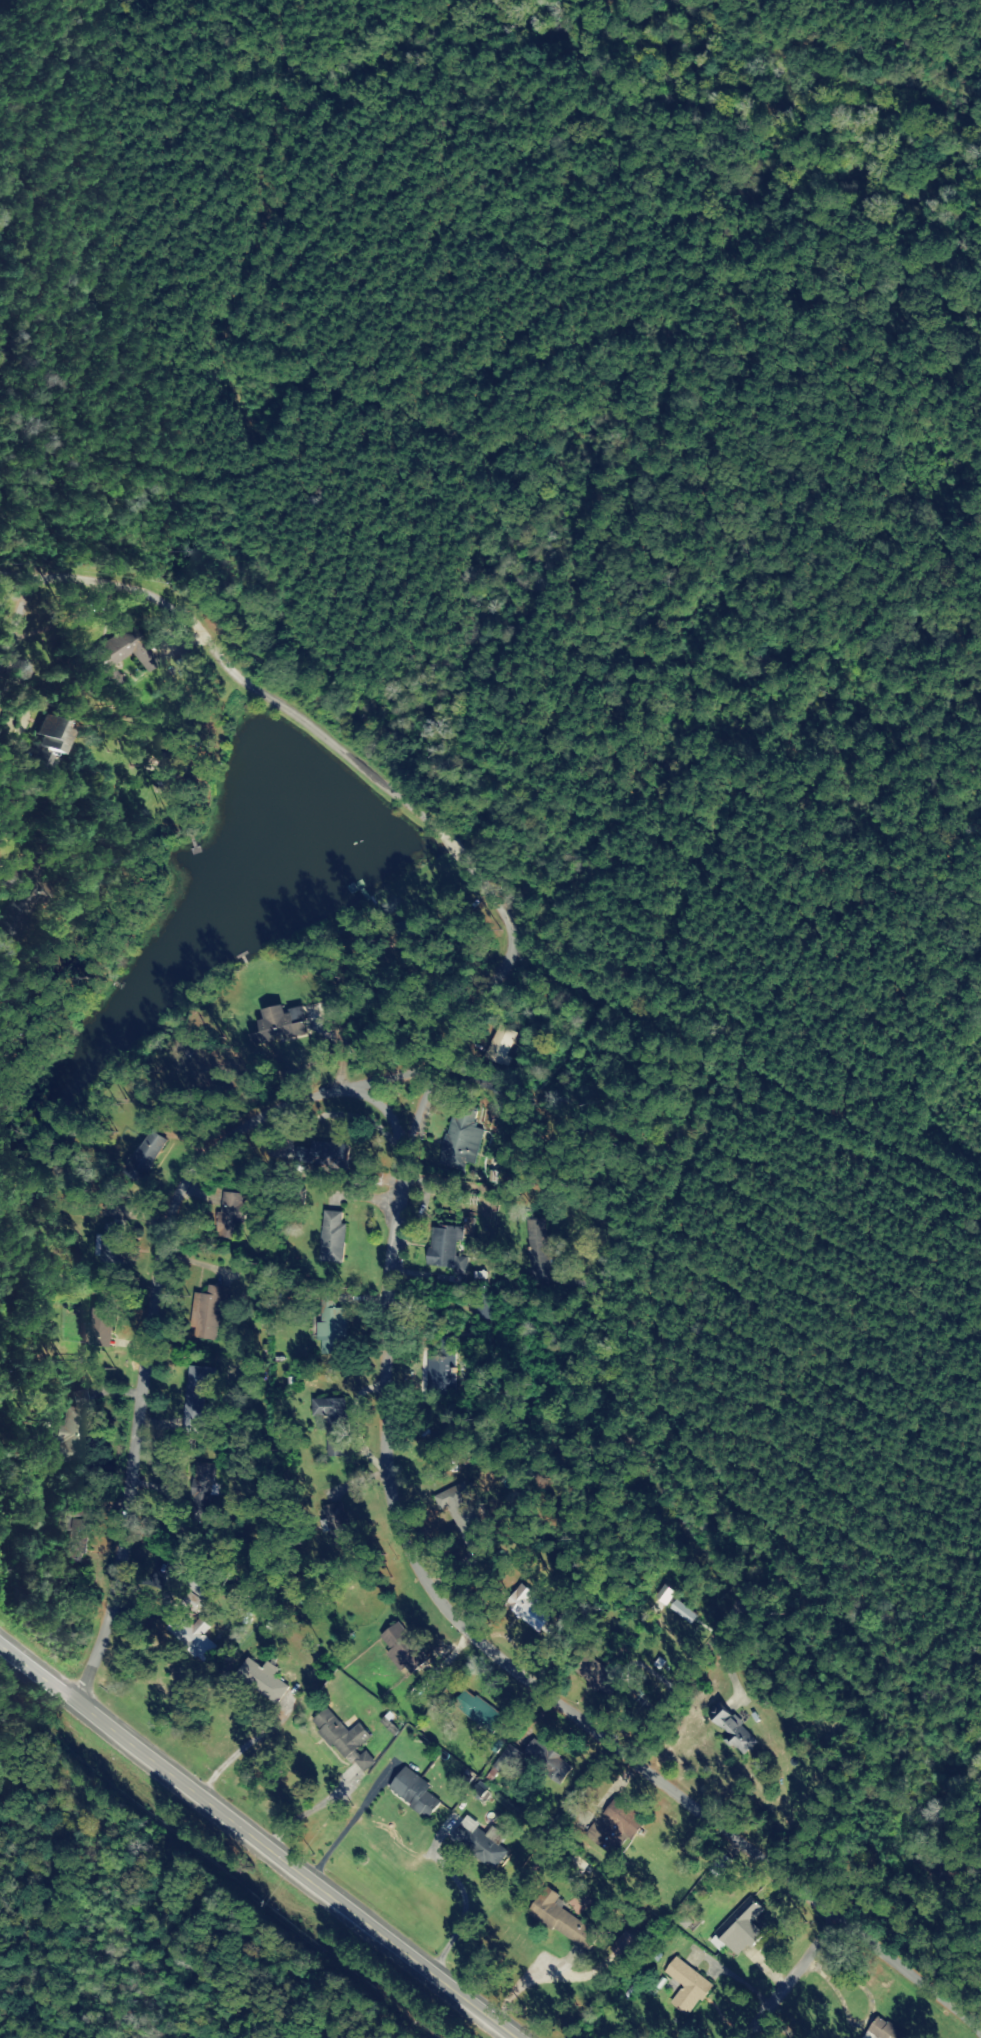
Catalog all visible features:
road: (6, 577)
building: (118, 655)
building: (56, 732)
building: (43, 760)
road: (350, 765)
building: (17, 918)
building: (279, 1027)
building: (501, 1043)
building: (463, 1136)
building: (323, 1153)
building: (145, 1156)
building: (233, 1205)
building: (332, 1235)
building: (535, 1239)
building: (111, 1243)
building: (445, 1248)
road: (140, 1303)
building: (209, 1309)
building: (331, 1318)
building: (101, 1325)
building: (440, 1372)
building: (194, 1399)
road: (601, 1416)
building: (331, 1423)
building: (69, 1430)
building: (201, 1487)
building: (463, 1513)
building: (74, 1543)
road: (416, 1585)
building: (196, 1586)
building: (192, 1635)
building: (402, 1648)
building: (598, 1676)
building: (262, 1678)
building: (478, 1711)
building: (734, 1729)
building: (346, 1739)
building: (506, 1757)
building: (547, 1760)
building: (417, 1793)
road: (956, 1818)
building: (617, 1824)
building: (478, 1844)
road: (255, 1846)
building: (565, 1922)
building: (743, 1926)
road: (880, 1955)
road: (755, 1980)
building: (688, 1986)
building: (883, 2029)

